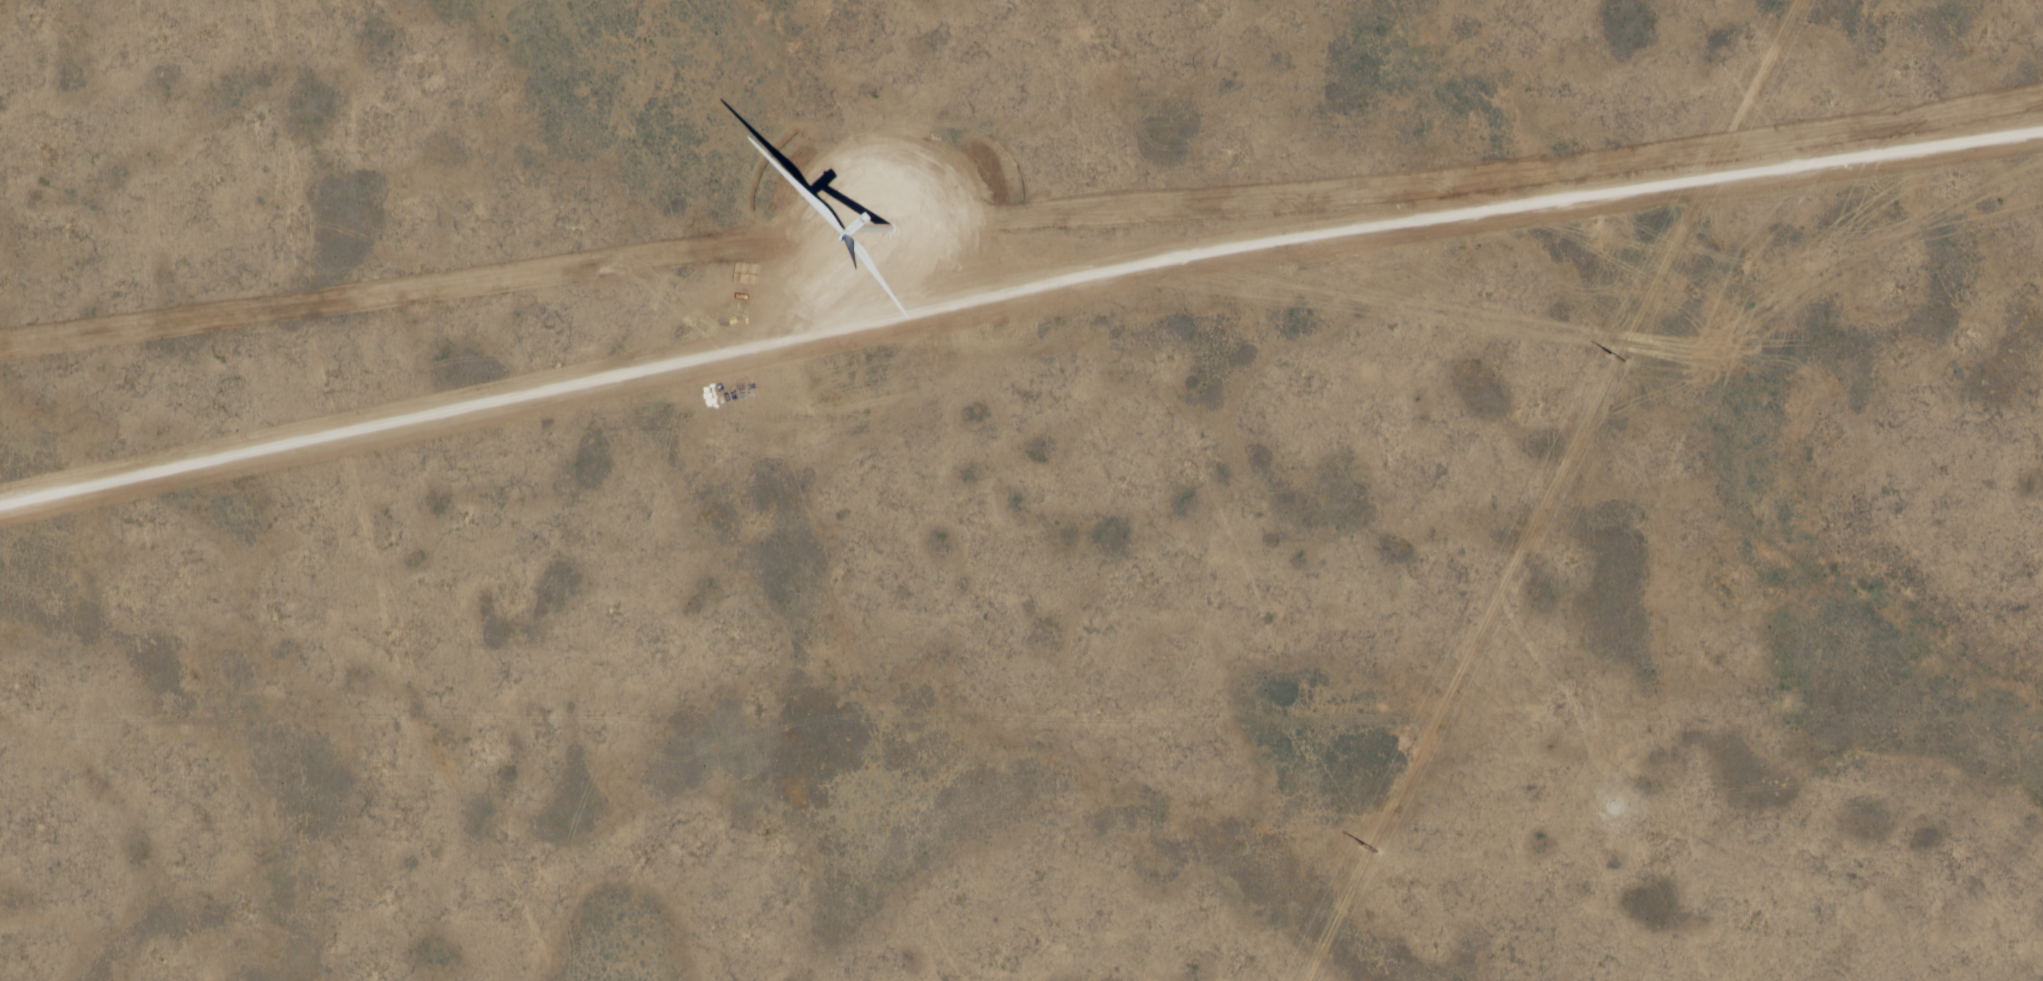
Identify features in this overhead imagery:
wind turbine: (871, 220)
power tower: (1618, 356)
power tower: (1371, 847)

